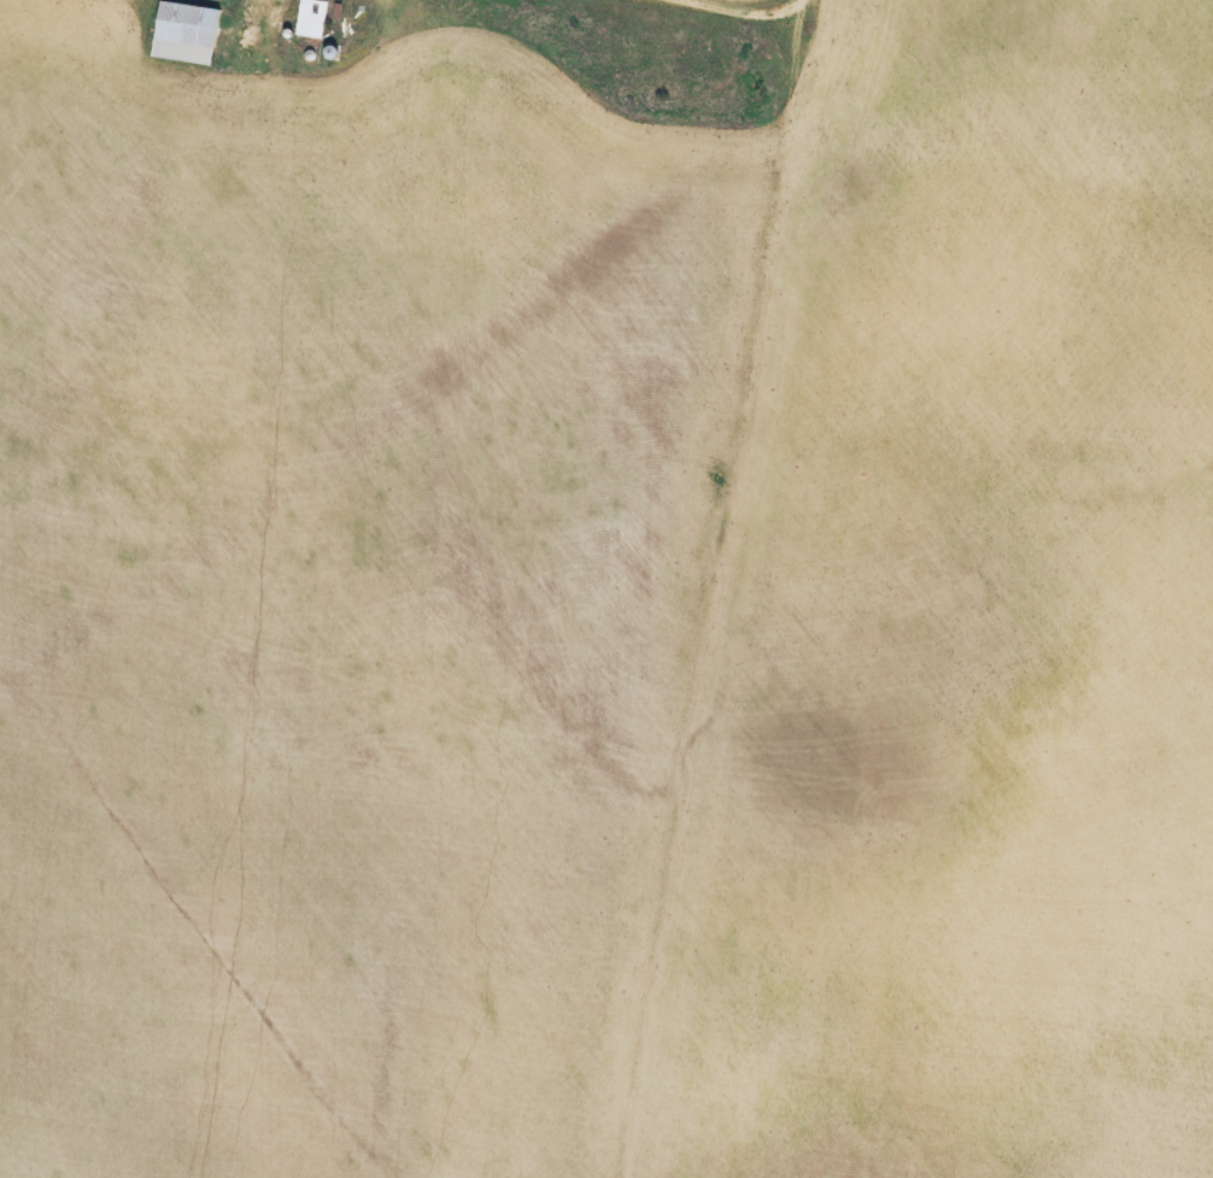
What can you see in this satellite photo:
road: (708, 1)
building: (310, 18)
building: (183, 33)
road: (704, 588)
crop: (966, 625)

